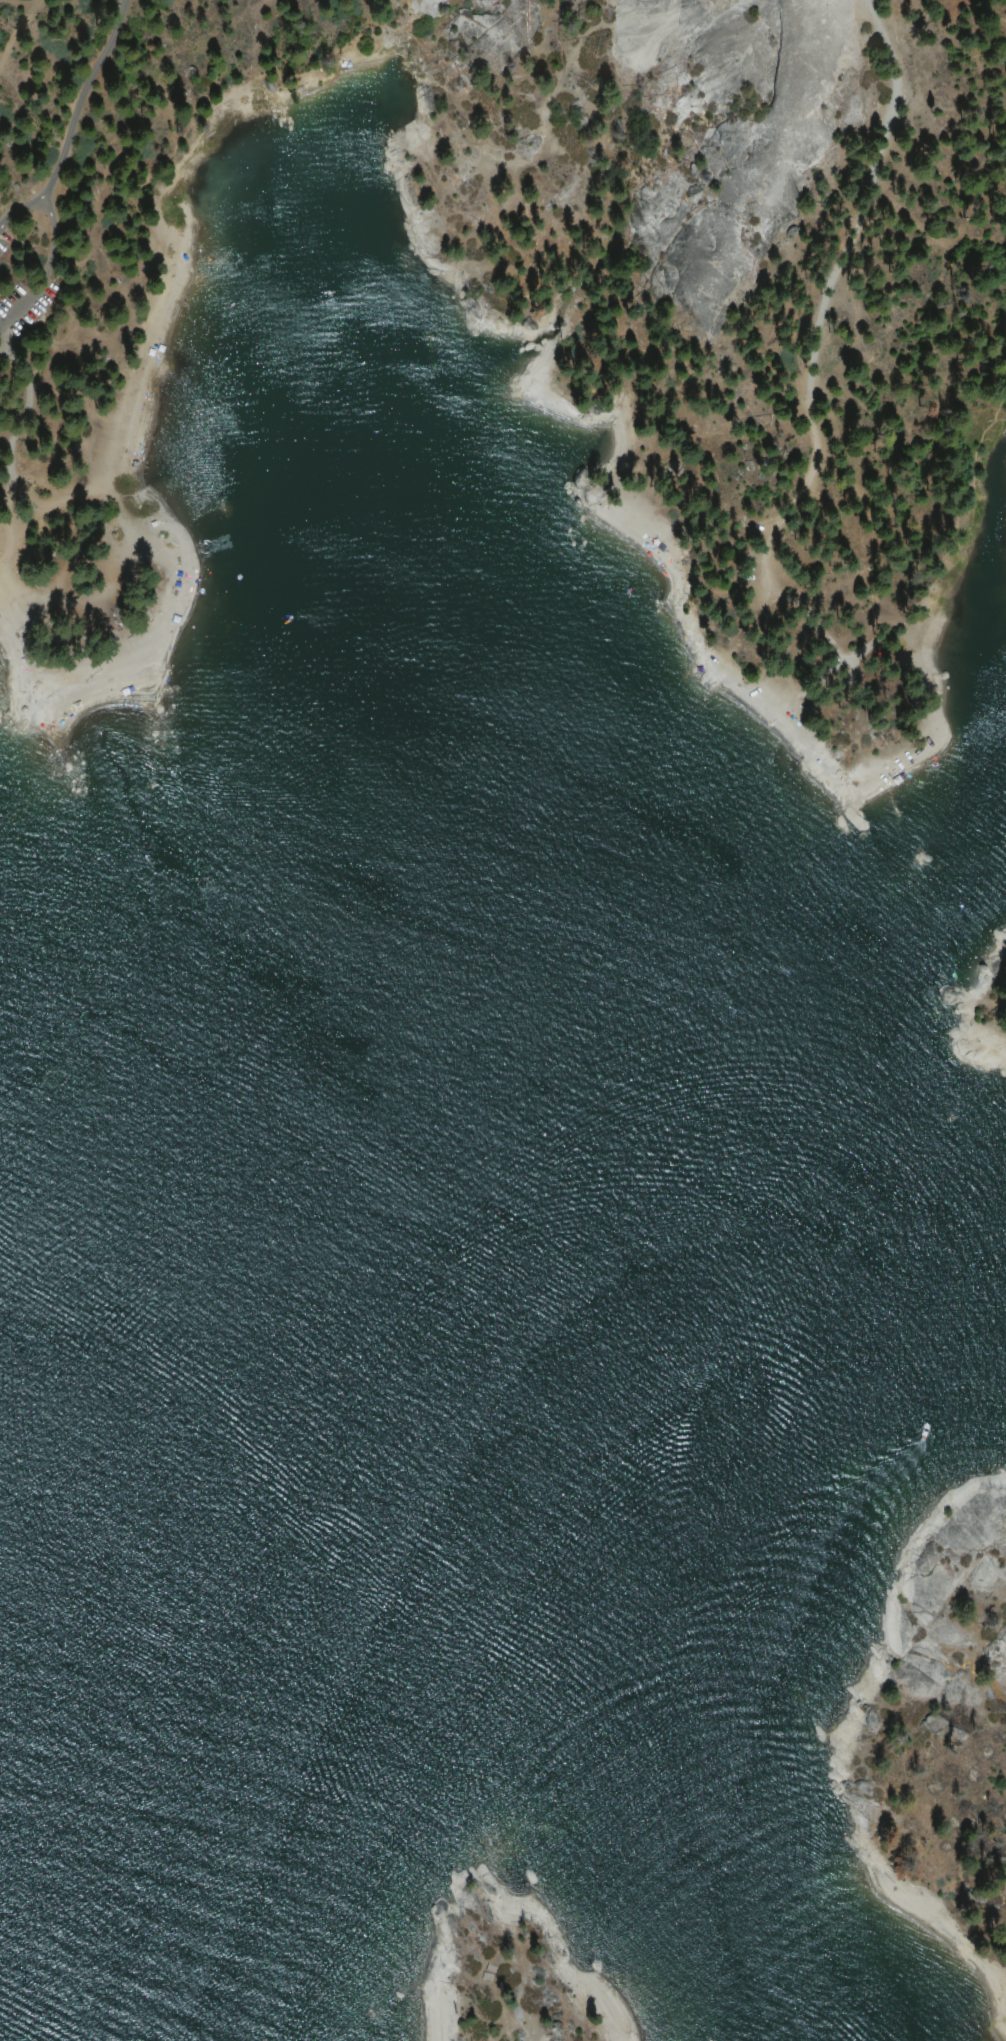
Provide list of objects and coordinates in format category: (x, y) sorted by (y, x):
road: (86, 105)
road: (42, 255)
parking lot: (28, 285)
road: (823, 296)

